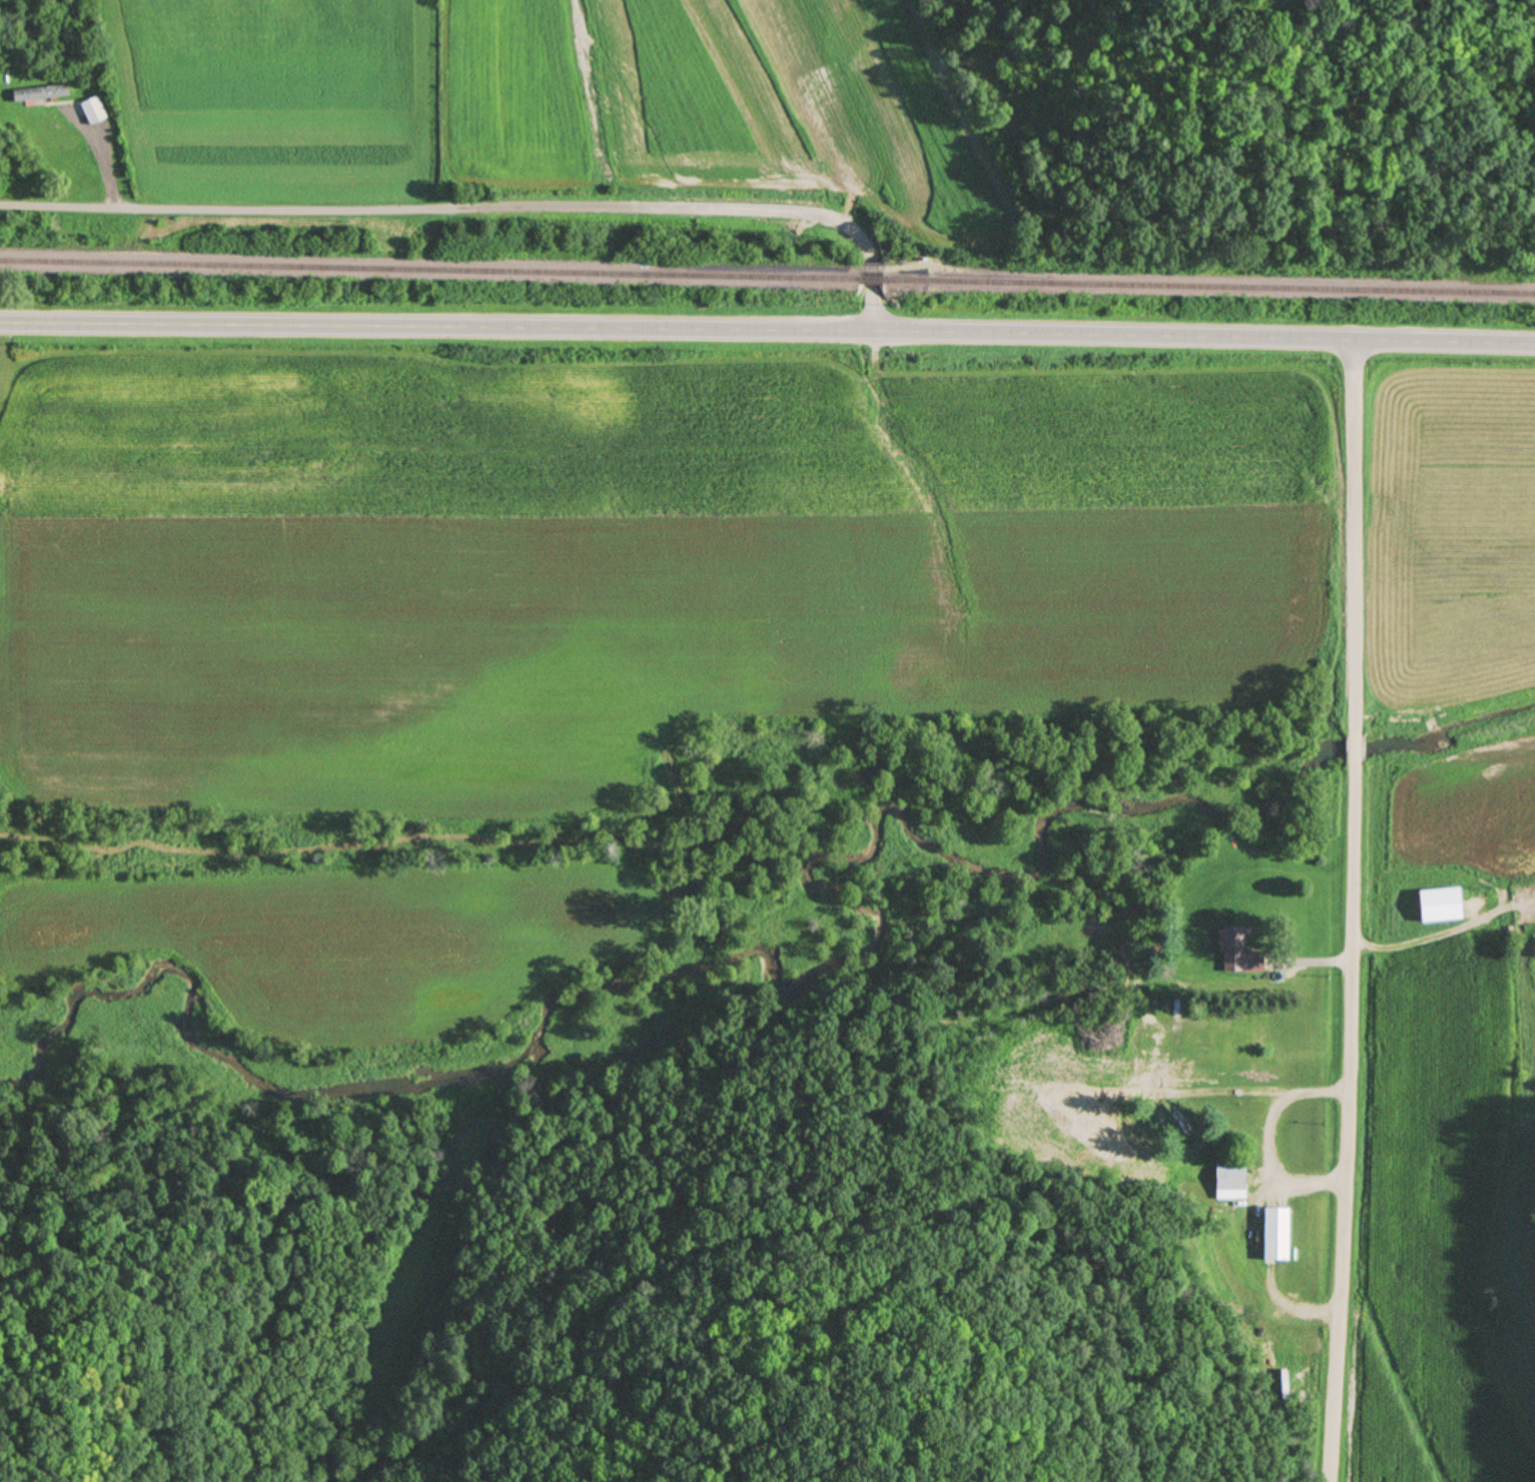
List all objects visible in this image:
building: (37, 94)
building: (92, 110)
road: (482, 206)
railway: (427, 270)
railway: (868, 279)
railway: (1209, 287)
road: (767, 330)
road: (1353, 911)
building: (1239, 952)
building: (1181, 1126)
road: (1270, 1136)
building: (1230, 1178)
building: (1276, 1233)
road: (1296, 1304)

